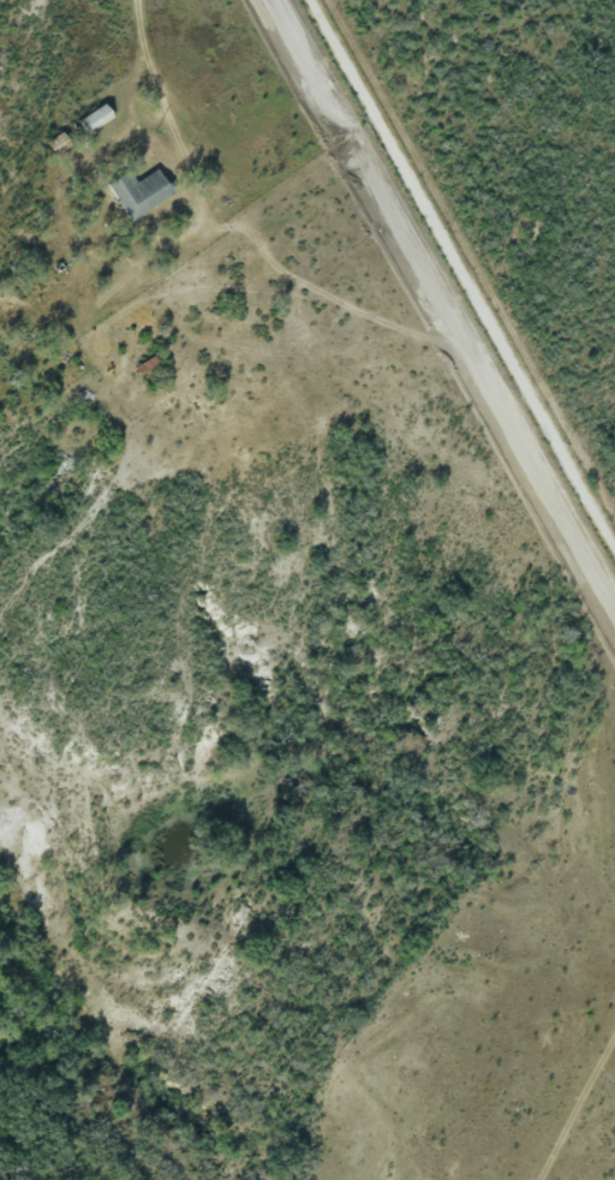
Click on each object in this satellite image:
road: (150, 88)
building: (141, 192)
road: (466, 264)

